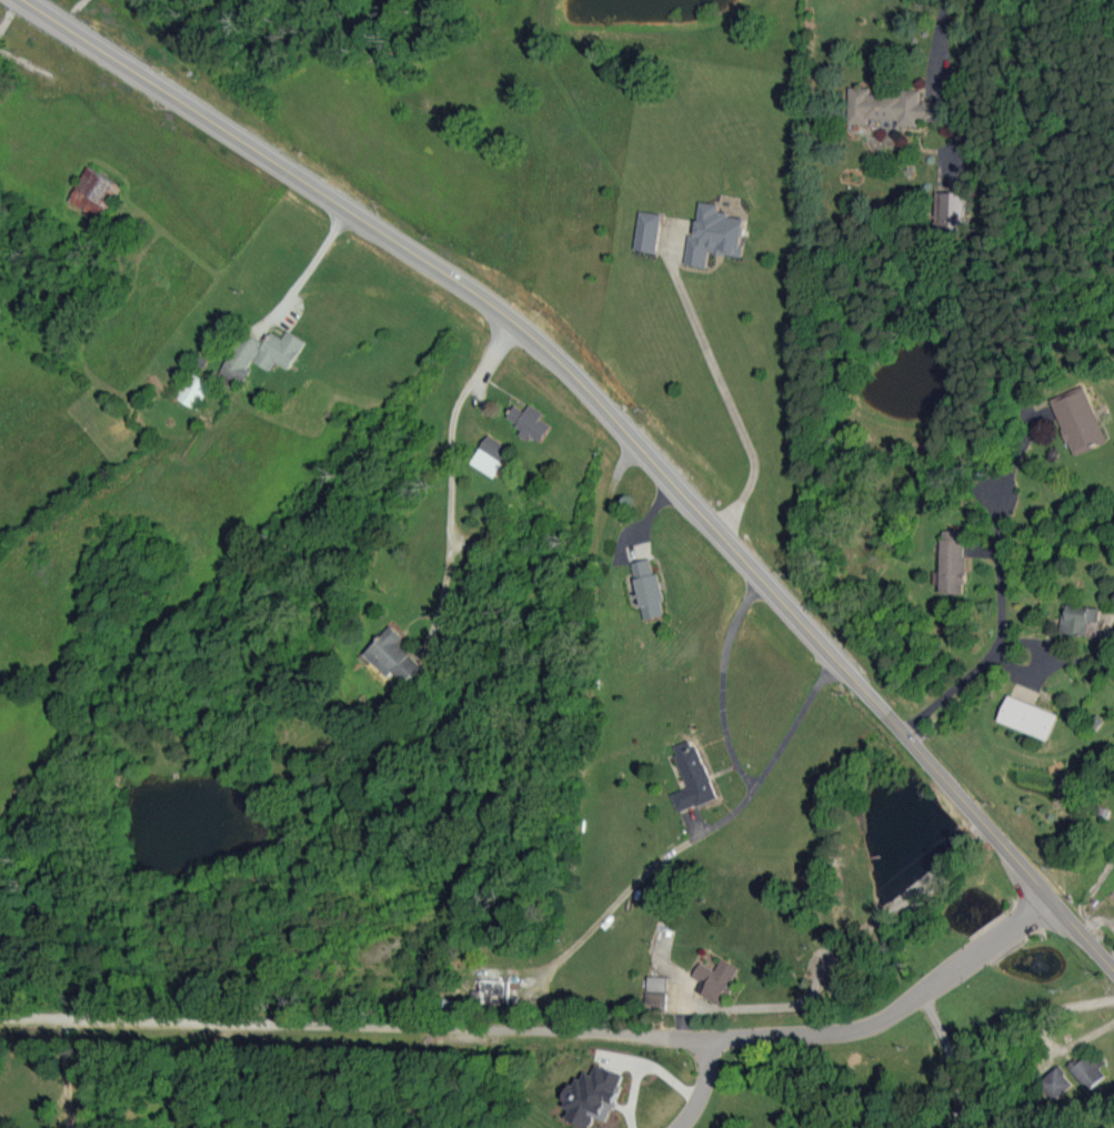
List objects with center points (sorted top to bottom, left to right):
road: (937, 37)
building: (96, 193)
building: (950, 212)
building: (648, 231)
building: (714, 235)
road: (311, 265)
building: (279, 350)
building: (241, 357)
building: (194, 390)
road: (726, 397)
building: (1078, 420)
building: (530, 422)
road: (623, 427)
building: (491, 456)
road: (450, 469)
building: (952, 562)
road: (1000, 588)
building: (649, 590)
building: (1078, 618)
building: (393, 656)
road: (1052, 665)
building: (1028, 717)
road: (733, 753)
building: (692, 777)
road: (973, 842)
road: (924, 882)
road: (820, 975)
building: (715, 979)
building: (658, 984)
building: (495, 991)
building: (656, 1000)
road: (542, 1029)
road: (950, 1059)
building: (1087, 1071)
road: (64, 1074)
building: (1056, 1084)
road: (701, 1086)
building: (593, 1095)

